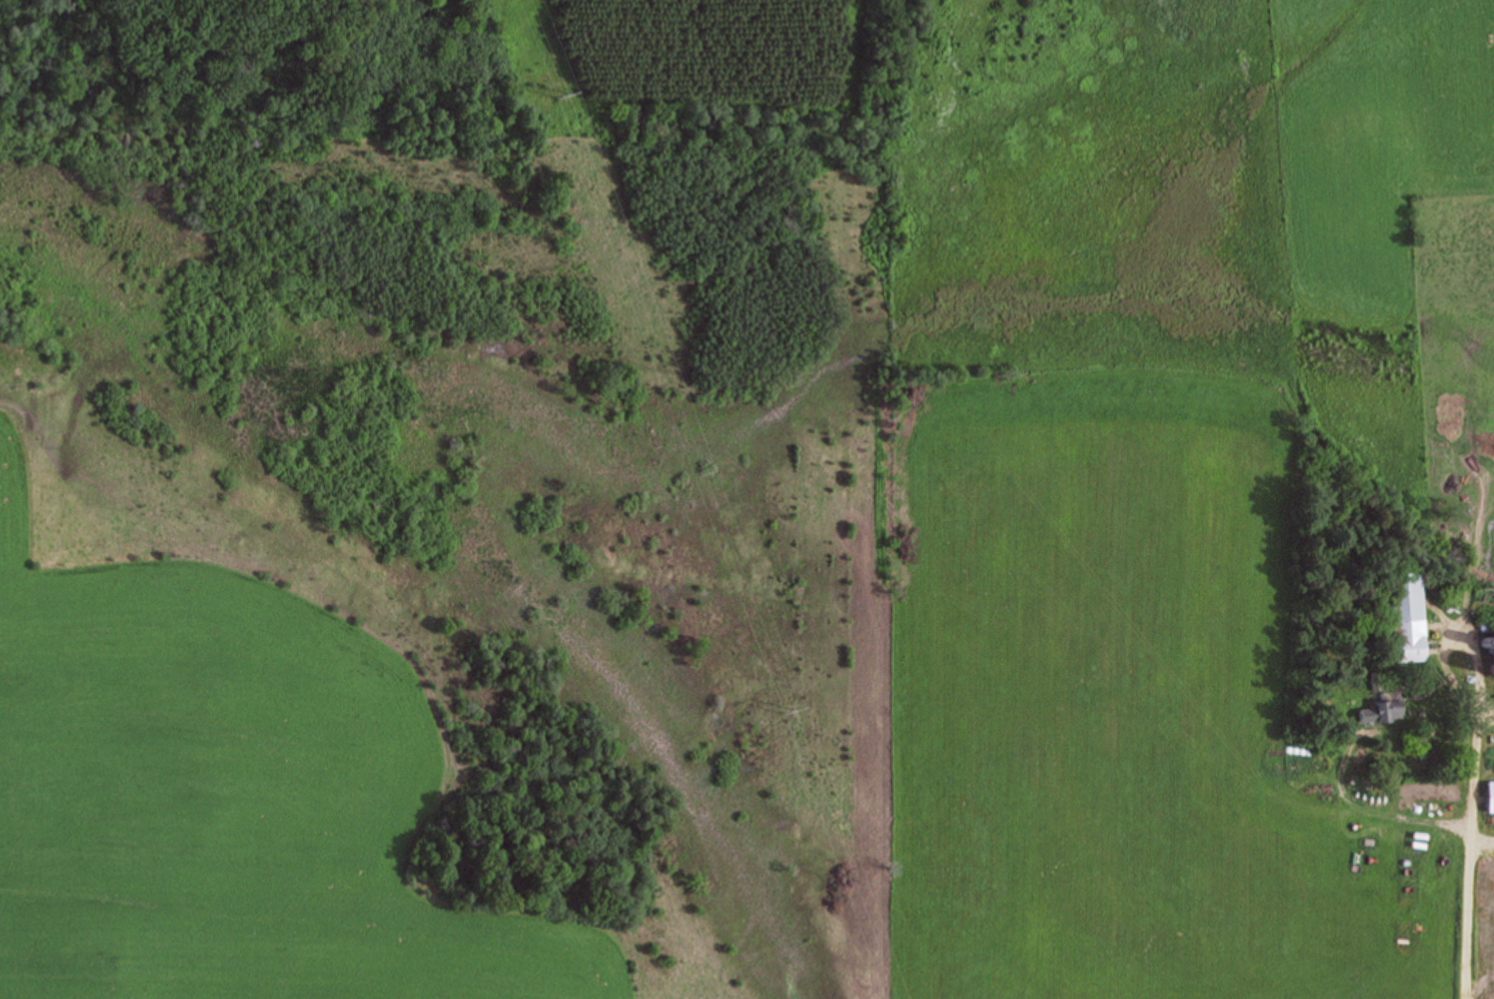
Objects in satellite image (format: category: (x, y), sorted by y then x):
power tower: (560, 93)
building: (1408, 618)
building: (1488, 654)
building: (1385, 707)
power tower: (788, 711)
building: (1488, 797)
road: (1465, 812)

